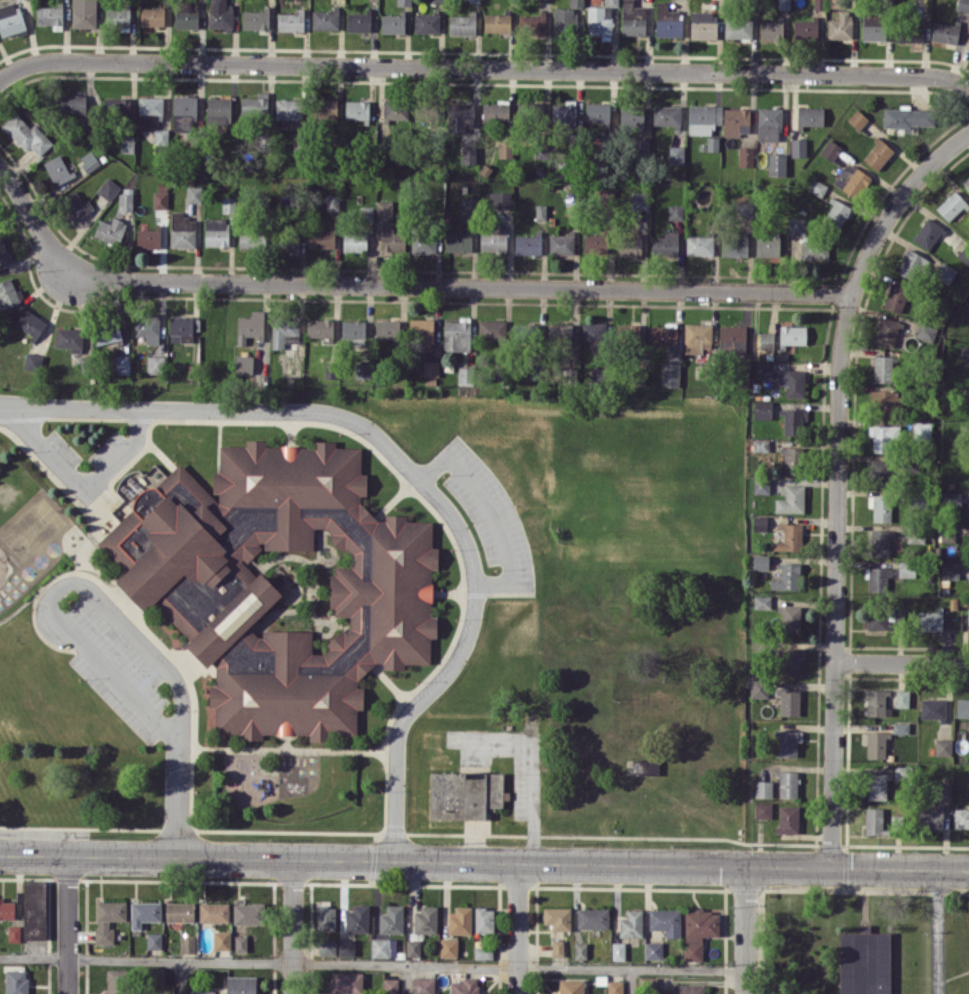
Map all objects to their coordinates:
building: (473, 0)
building: (404, 2)
building: (576, 2)
building: (818, 4)
building: (963, 5)
building: (84, 13)
building: (186, 14)
building: (220, 14)
building: (49, 15)
building: (117, 16)
building: (151, 16)
building: (10, 18)
building: (633, 18)
building: (255, 19)
building: (325, 19)
building: (600, 19)
building: (564, 20)
building: (290, 21)
building: (358, 21)
building: (667, 21)
building: (426, 22)
building: (497, 22)
building: (392, 23)
building: (462, 24)
building: (532, 24)
building: (703, 25)
building: (840, 25)
building: (738, 26)
building: (873, 27)
building: (771, 29)
building: (805, 29)
building: (909, 32)
building: (945, 32)
road: (483, 68)
building: (72, 104)
building: (255, 105)
building: (117, 107)
building: (327, 107)
building: (288, 108)
building: (395, 109)
building: (218, 110)
building: (357, 110)
building: (495, 112)
building: (597, 112)
building: (184, 113)
building: (563, 113)
building: (632, 115)
building: (666, 115)
building: (460, 116)
building: (810, 116)
building: (152, 117)
building: (907, 117)
building: (703, 118)
building: (857, 118)
building: (736, 121)
building: (769, 123)
building: (27, 134)
building: (712, 143)
building: (127, 144)
building: (642, 145)
building: (798, 147)
building: (505, 149)
building: (830, 149)
building: (877, 153)
building: (676, 154)
building: (468, 155)
building: (745, 156)
building: (89, 160)
building: (777, 164)
building: (58, 169)
building: (851, 179)
building: (966, 182)
building: (816, 187)
building: (108, 188)
building: (194, 193)
building: (160, 199)
building: (500, 199)
building: (639, 200)
building: (125, 201)
building: (76, 205)
building: (468, 205)
building: (952, 205)
building: (384, 208)
building: (743, 210)
building: (675, 211)
building: (540, 212)
building: (836, 212)
building: (365, 213)
building: (110, 230)
building: (182, 230)
building: (216, 231)
building: (928, 233)
building: (148, 237)
building: (321, 238)
building: (248, 239)
building: (291, 239)
building: (392, 239)
building: (494, 239)
building: (354, 240)
building: (807, 240)
building: (458, 241)
building: (423, 242)
building: (561, 243)
building: (595, 243)
building: (665, 243)
building: (527, 244)
building: (629, 244)
building: (699, 244)
building: (767, 245)
building: (734, 246)
building: (2, 251)
building: (911, 264)
building: (945, 272)
road: (395, 285)
building: (9, 293)
building: (895, 297)
building: (967, 309)
building: (30, 323)
building: (250, 326)
building: (147, 328)
building: (320, 328)
building: (182, 329)
building: (387, 329)
building: (491, 330)
building: (354, 331)
building: (526, 331)
building: (284, 332)
building: (422, 332)
building: (626, 332)
building: (887, 332)
building: (926, 332)
building: (106, 333)
building: (560, 333)
building: (595, 333)
building: (457, 334)
building: (792, 334)
building: (665, 335)
building: (697, 337)
building: (69, 338)
building: (732, 339)
building: (766, 340)
building: (964, 352)
building: (33, 362)
building: (122, 364)
building: (155, 364)
building: (246, 364)
building: (431, 368)
building: (765, 368)
building: (883, 368)
building: (330, 369)
building: (363, 370)
building: (670, 374)
building: (465, 375)
building: (792, 382)
building: (883, 397)
building: (762, 409)
building: (793, 420)
building: (921, 429)
building: (884, 437)
building: (760, 445)
building: (791, 459)
building: (879, 469)
road: (412, 473)
road: (838, 479)
building: (761, 485)
road: (78, 489)
building: (951, 498)
building: (791, 499)
building: (880, 507)
building: (759, 522)
building: (789, 537)
building: (879, 542)
building: (760, 561)
building: (907, 568)
building: (950, 569)
building: (787, 577)
building: (878, 578)
building: (281, 583)
building: (762, 601)
road: (102, 603)
building: (968, 616)
building: (789, 619)
building: (878, 619)
building: (928, 620)
building: (791, 661)
road: (902, 664)
building: (758, 687)
building: (902, 698)
building: (789, 702)
building: (877, 702)
building: (962, 707)
building: (932, 708)
building: (900, 727)
building: (787, 743)
building: (875, 744)
building: (943, 747)
building: (645, 766)
road: (532, 776)
building: (787, 783)
building: (876, 785)
building: (763, 788)
building: (945, 792)
building: (465, 794)
building: (762, 809)
building: (930, 817)
building: (961, 817)
building: (788, 819)
building: (874, 821)
road: (484, 863)
building: (6, 909)
building: (34, 909)
building: (179, 911)
building: (144, 912)
building: (214, 912)
building: (249, 913)
building: (325, 917)
building: (557, 917)
building: (108, 918)
building: (593, 918)
building: (357, 919)
building: (392, 919)
building: (484, 919)
building: (425, 920)
building: (460, 920)
building: (665, 921)
building: (631, 923)
road: (69, 924)
road: (296, 926)
road: (521, 929)
building: (698, 931)
road: (746, 931)
road: (933, 932)
building: (14, 933)
building: (154, 940)
building: (221, 940)
building: (240, 943)
building: (187, 944)
building: (327, 946)
building: (346, 947)
building: (383, 947)
building: (413, 947)
building: (448, 947)
building: (558, 947)
building: (580, 950)
building: (618, 950)
building: (653, 950)
building: (483, 952)
road: (35, 958)
building: (864, 962)
road: (408, 964)
building: (156, 977)
road: (180, 977)
road: (408, 979)
building: (16, 981)
building: (117, 981)
road: (632, 981)
building: (346, 982)
building: (647, 983)
building: (241, 985)
building: (423, 985)
building: (390, 986)
building: (464, 986)
building: (571, 986)
building: (615, 986)
building: (687, 988)
building: (200, 991)

